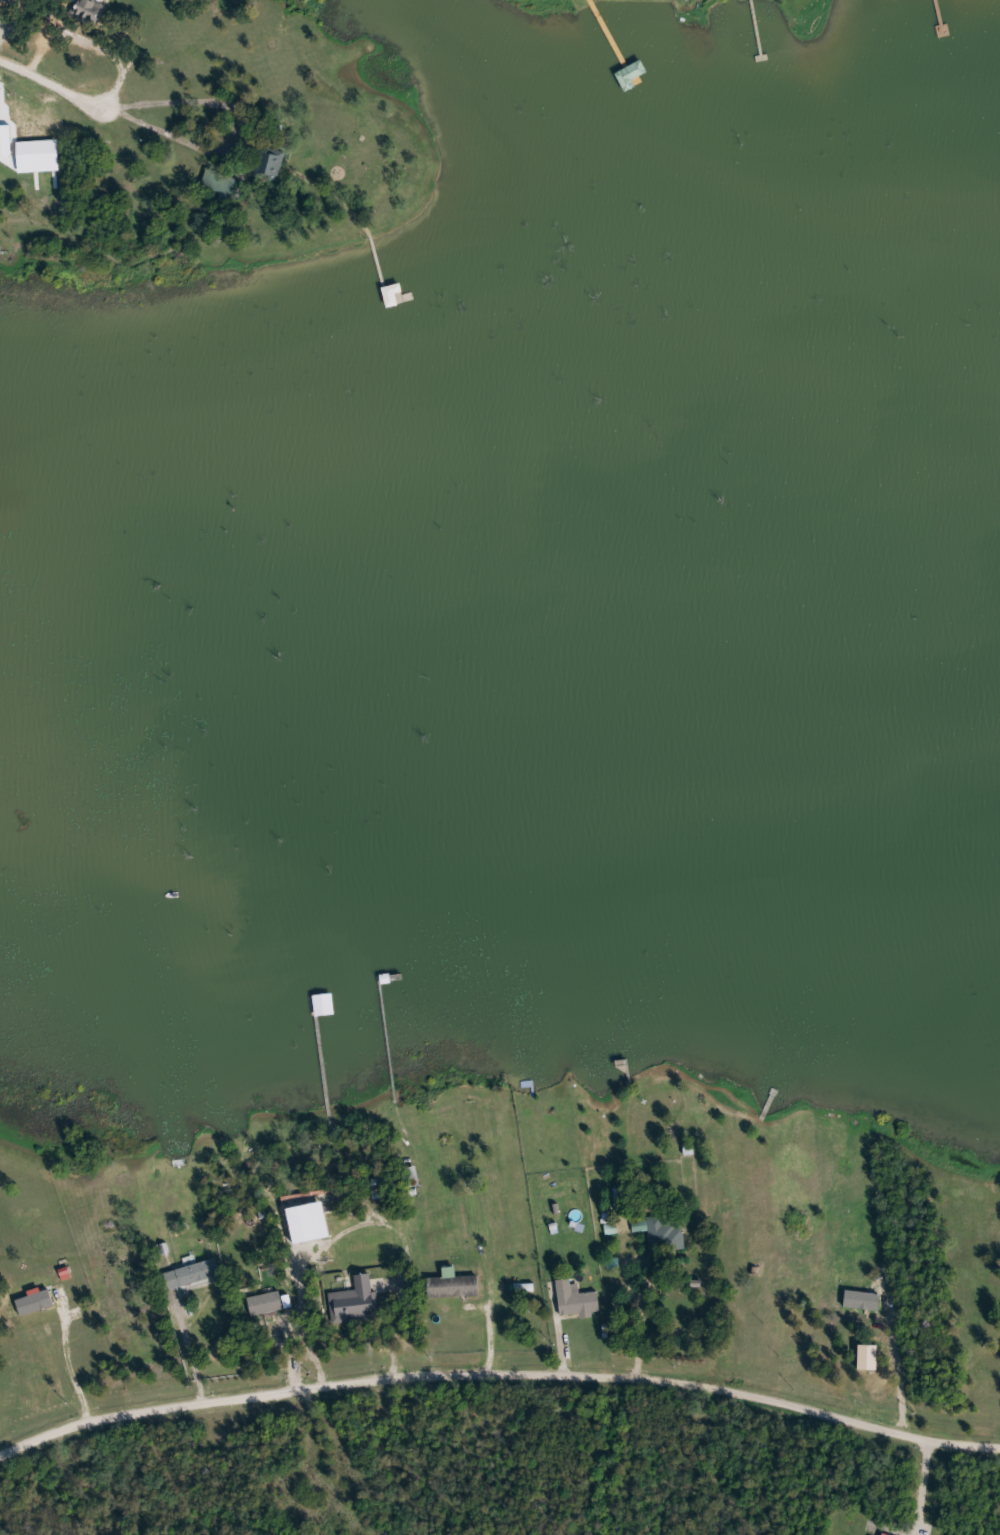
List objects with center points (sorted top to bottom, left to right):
building: (90, 10)
building: (632, 75)
road: (53, 83)
building: (269, 163)
building: (53, 179)
building: (221, 185)
building: (325, 1003)
building: (411, 1177)
building: (378, 1188)
building: (665, 1235)
building: (191, 1274)
building: (453, 1285)
building: (577, 1299)

